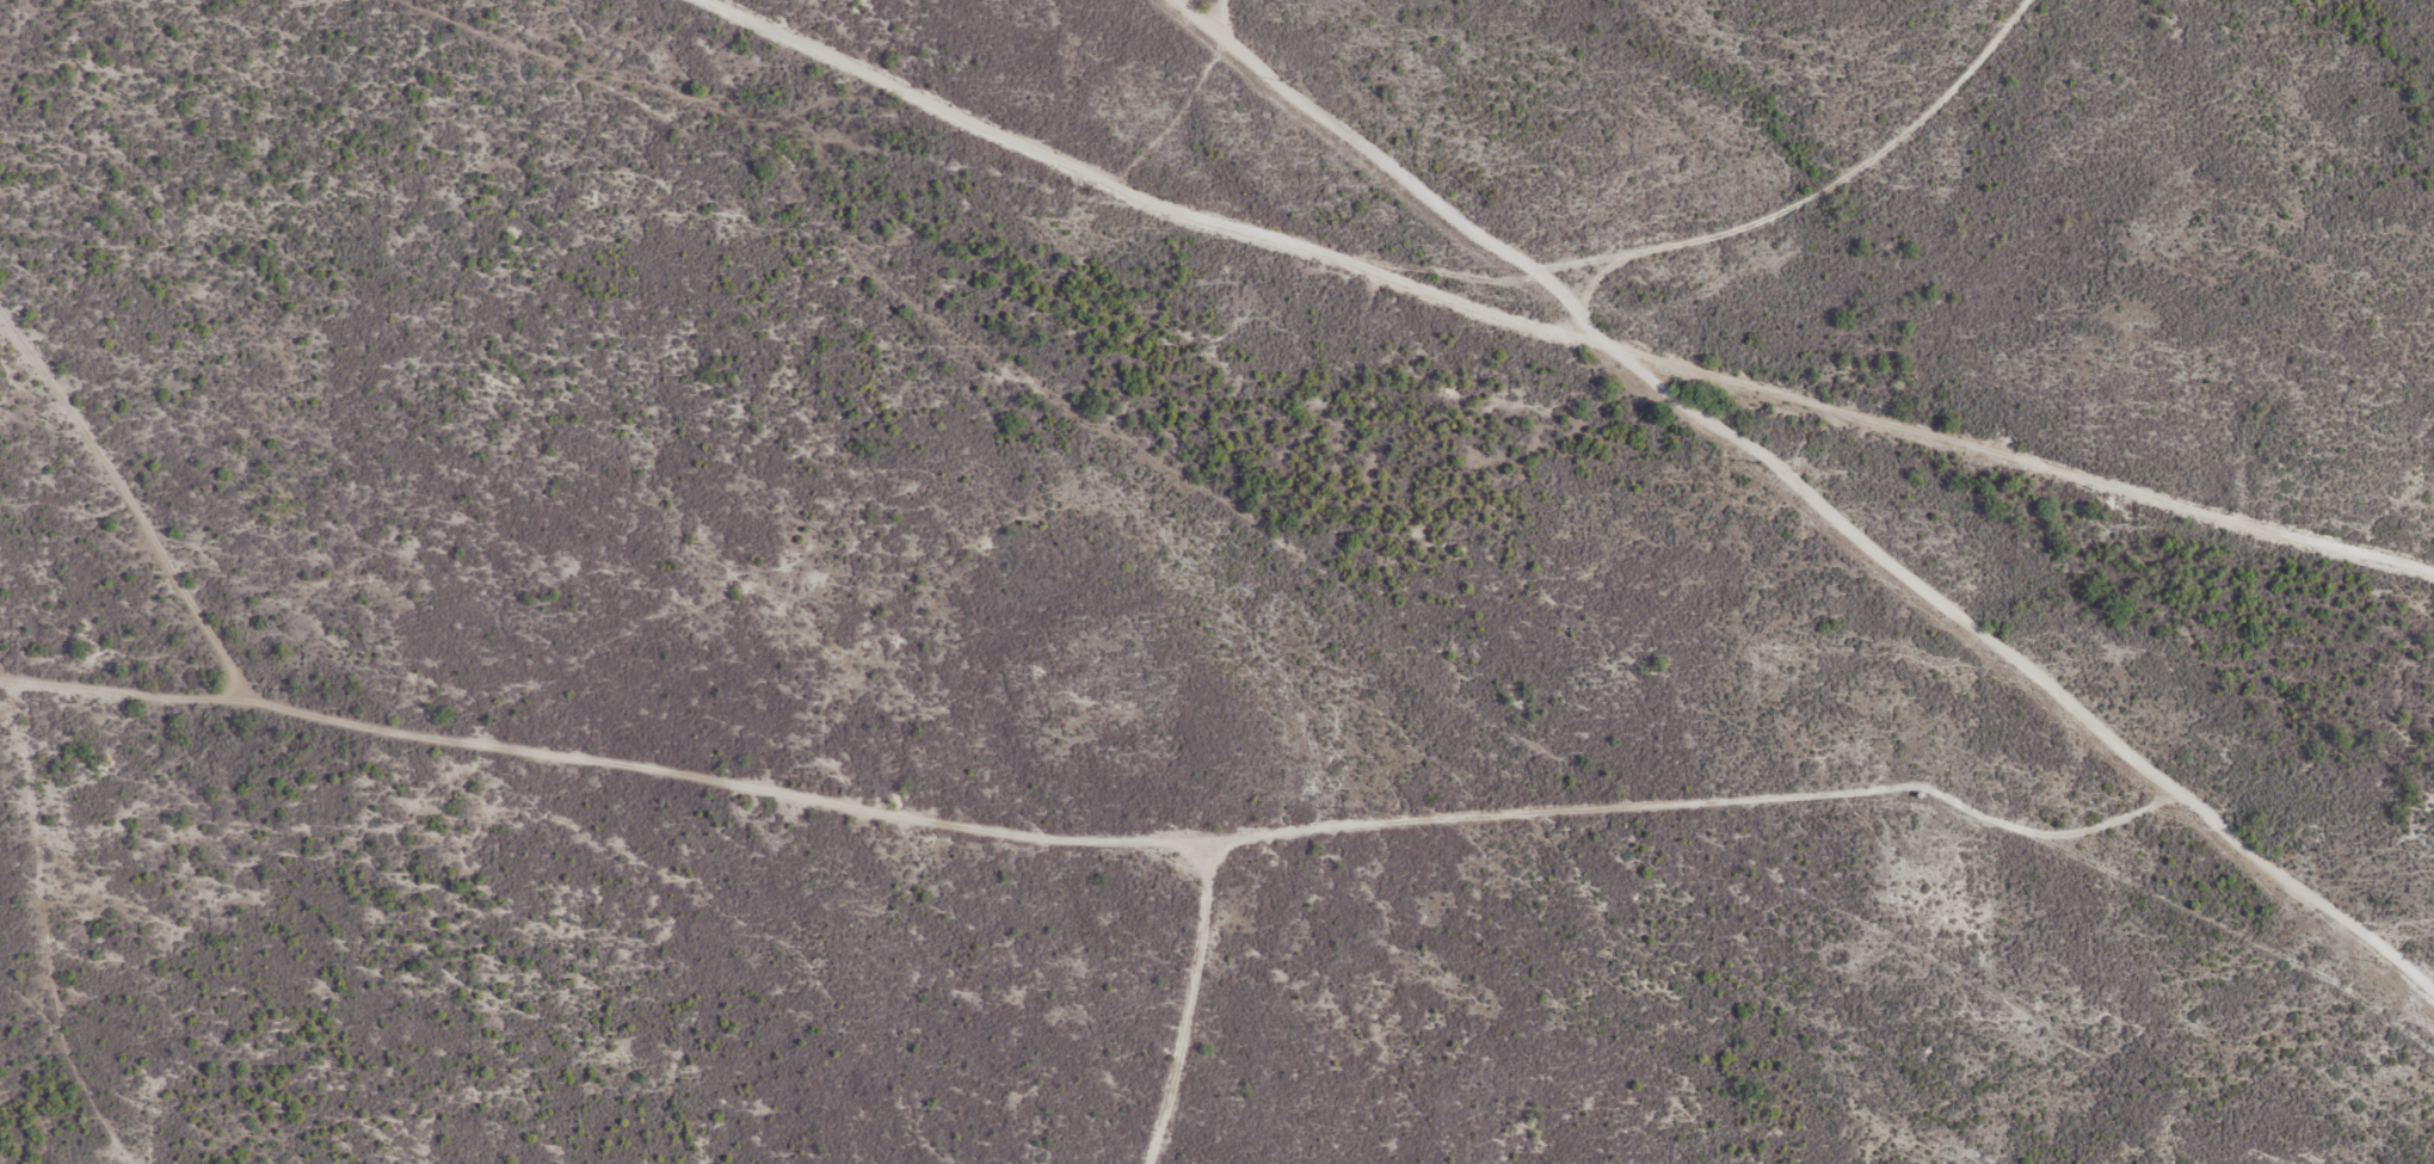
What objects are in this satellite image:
road: (947, 105)
road: (1736, 224)
road: (1423, 287)
road: (1342, 581)
road: (578, 747)
road: (47, 1063)

